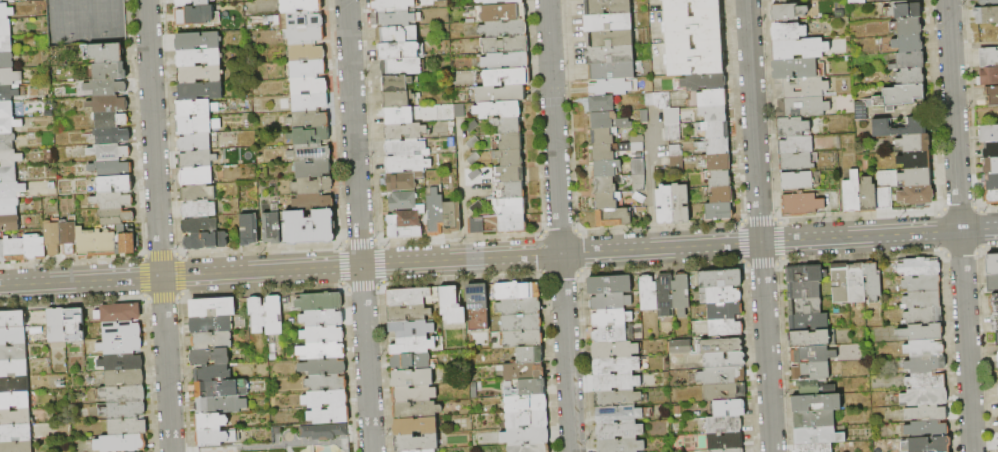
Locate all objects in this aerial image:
building: (6, 0)
building: (856, 1)
building: (989, 1)
building: (191, 2)
building: (500, 2)
building: (391, 5)
building: (300, 6)
building: (708, 6)
building: (607, 7)
building: (904, 10)
building: (6, 12)
building: (789, 12)
building: (501, 13)
building: (195, 15)
building: (986, 15)
building: (393, 18)
building: (300, 20)
building: (609, 22)
building: (693, 25)
building: (906, 27)
building: (5, 28)
building: (503, 29)
building: (788, 32)
building: (397, 34)
building: (304, 35)
building: (609, 39)
building: (198, 41)
building: (6, 44)
building: (908, 44)
building: (505, 45)
building: (800, 48)
building: (401, 51)
building: (105, 53)
building: (306, 53)
building: (610, 55)
building: (199, 57)
building: (989, 57)
building: (695, 58)
building: (7, 61)
building: (506, 61)
building: (909, 62)
building: (401, 67)
building: (308, 69)
building: (795, 69)
building: (110, 71)
building: (612, 71)
building: (200, 74)
building: (989, 76)
building: (10, 77)
building: (507, 77)
building: (910, 78)
building: (704, 82)
building: (396, 83)
building: (309, 86)
building: (106, 87)
building: (610, 87)
building: (801, 88)
building: (201, 91)
building: (8, 93)
building: (501, 94)
building: (993, 95)
building: (898, 96)
building: (708, 98)
building: (398, 99)
building: (659, 100)
building: (310, 102)
building: (109, 104)
building: (602, 104)
building: (802, 107)
building: (196, 108)
building: (499, 109)
building: (6, 110)
building: (460, 110)
building: (861, 111)
building: (713, 114)
building: (399, 115)
building: (645, 117)
building: (672, 117)
building: (111, 118)
building: (309, 119)
building: (608, 121)
road: (753, 121)
building: (9, 125)
building: (197, 125)
building: (509, 125)
building: (472, 126)
building: (793, 127)
building: (916, 127)
building: (714, 130)
building: (406, 131)
building: (673, 133)
building: (989, 133)
building: (112, 135)
building: (309, 135)
road: (656, 135)
building: (602, 136)
building: (510, 141)
building: (7, 142)
building: (473, 142)
building: (195, 143)
building: (637, 143)
building: (914, 143)
building: (798, 145)
building: (715, 146)
building: (406, 148)
building: (991, 150)
building: (609, 151)
building: (676, 151)
building: (110, 152)
building: (311, 153)
building: (509, 157)
building: (10, 158)
building: (197, 159)
building: (474, 159)
building: (915, 160)
building: (797, 161)
building: (718, 162)
building: (407, 163)
building: (677, 165)
building: (991, 166)
building: (638, 167)
building: (112, 168)
building: (606, 168)
building: (313, 169)
building: (9, 174)
building: (510, 174)
building: (475, 175)
building: (196, 176)
building: (916, 177)
building: (719, 178)
building: (797, 180)
building: (404, 181)
building: (992, 182)
building: (639, 183)
building: (115, 184)
building: (313, 185)
building: (606, 185)
building: (11, 190)
road: (460, 190)
building: (508, 191)
building: (198, 192)
building: (852, 193)
building: (868, 194)
building: (721, 195)
building: (916, 195)
building: (992, 197)
building: (639, 198)
building: (884, 199)
building: (113, 200)
building: (607, 201)
road: (652, 201)
building: (314, 202)
building: (405, 202)
building: (681, 203)
building: (802, 204)
building: (665, 205)
building: (9, 206)
building: (477, 207)
building: (510, 207)
building: (199, 209)
building: (719, 212)
building: (436, 213)
building: (117, 216)
building: (452, 217)
building: (613, 218)
building: (9, 222)
building: (406, 223)
building: (512, 224)
building: (200, 225)
building: (477, 225)
road: (559, 225)
road: (158, 226)
road: (358, 226)
road: (959, 226)
building: (308, 227)
building: (121, 228)
building: (272, 228)
building: (249, 230)
road: (878, 235)
building: (68, 237)
building: (52, 239)
building: (206, 241)
building: (95, 243)
building: (127, 243)
building: (35, 247)
building: (15, 249)
building: (2, 251)
road: (380, 264)
building: (992, 264)
building: (919, 267)
building: (805, 274)
building: (720, 278)
building: (873, 283)
building: (922, 283)
building: (992, 283)
building: (857, 284)
building: (610, 285)
building: (840, 286)
building: (804, 290)
building: (517, 291)
building: (649, 294)
building: (681, 294)
building: (720, 295)
building: (409, 296)
building: (665, 296)
building: (318, 300)
building: (922, 300)
building: (610, 302)
building: (994, 303)
building: (452, 306)
building: (805, 306)
building: (213, 307)
building: (478, 307)
building: (519, 307)
building: (724, 311)
building: (119, 313)
building: (408, 313)
building: (257, 314)
building: (274, 316)
building: (321, 316)
building: (924, 316)
building: (611, 318)
building: (12, 320)
building: (995, 321)
building: (522, 322)
building: (809, 323)
building: (75, 324)
building: (211, 324)
building: (57, 328)
building: (412, 328)
building: (725, 328)
building: (121, 330)
building: (321, 332)
building: (922, 332)
building: (610, 334)
building: (13, 335)
building: (523, 339)
building: (813, 339)
building: (997, 339)
building: (212, 340)
building: (414, 344)
building: (677, 345)
building: (121, 346)
building: (721, 346)
road: (766, 347)
building: (924, 348)
building: (320, 349)
building: (615, 349)
building: (13, 352)
building: (817, 354)
building: (530, 355)
building: (210, 357)
building: (997, 357)
building: (725, 360)
building: (411, 361)
building: (122, 362)
building: (926, 364)
building: (322, 365)
building: (615, 366)
building: (14, 368)
building: (812, 371)
building: (523, 372)
building: (213, 373)
building: (721, 376)
building: (125, 378)
building: (413, 378)
building: (324, 381)
building: (926, 381)
building: (616, 383)
building: (14, 384)
building: (532, 387)
building: (815, 388)
building: (222, 389)
building: (725, 392)
building: (123, 394)
building: (413, 394)
building: (324, 397)
building: (924, 397)
building: (617, 399)
building: (14, 400)
building: (816, 403)
building: (526, 404)
building: (221, 405)
building: (729, 408)
building: (123, 410)
building: (416, 410)
building: (327, 413)
building: (927, 413)
building: (618, 414)
building: (15, 417)
building: (815, 419)
building: (527, 420)
building: (211, 422)
building: (724, 424)
building: (128, 426)
building: (416, 426)
building: (927, 430)
building: (324, 431)
building: (619, 431)
building: (15, 433)
building: (818, 435)
building: (526, 436)
building: (217, 437)
park: (298, 439)
building: (725, 441)
building: (121, 443)
road: (299, 443)
building: (417, 443)
building: (621, 445)
building: (927, 445)
building: (16, 447)
building: (814, 447)
building: (530, 448)
building: (728, 450)
building: (418, 451)

